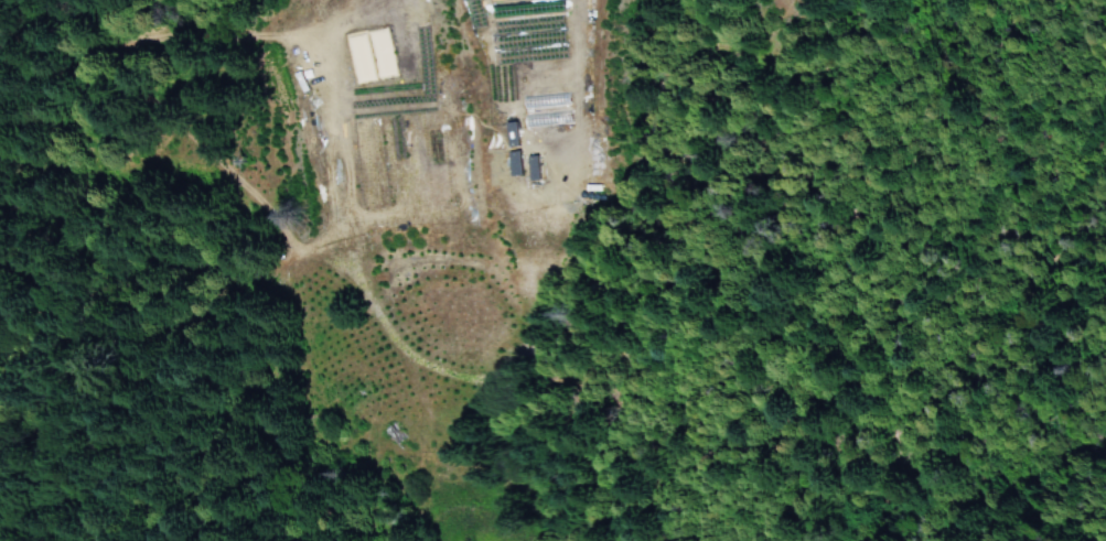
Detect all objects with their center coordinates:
road: (45, 61)
building: (515, 164)
building: (534, 169)
road: (200, 175)

